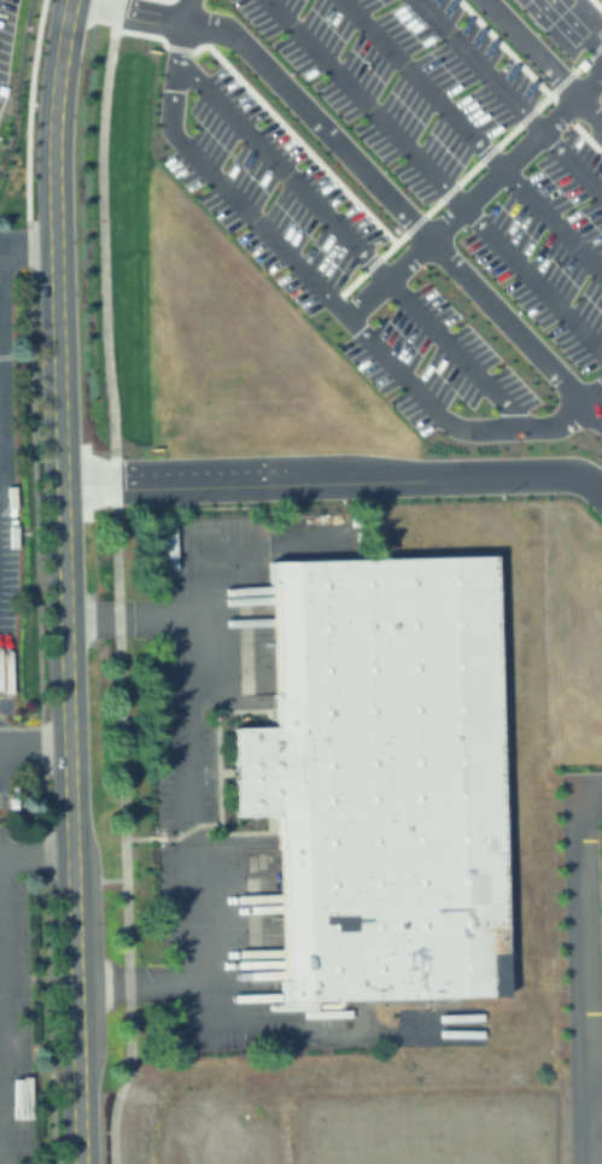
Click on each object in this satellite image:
road: (577, 25)
road: (542, 62)
road: (510, 95)
road: (54, 122)
road: (472, 136)
road: (361, 166)
road: (434, 175)
road: (268, 192)
road: (480, 207)
road: (27, 246)
road: (363, 252)
road: (323, 291)
road: (29, 353)
road: (450, 384)
road: (2, 397)
road: (334, 487)
road: (117, 581)
road: (92, 619)
road: (68, 704)
road: (35, 748)
building: (378, 783)
road: (187, 800)
road: (158, 840)
road: (36, 852)
road: (100, 881)
road: (583, 965)
road: (40, 981)
road: (103, 984)
road: (4, 1024)
road: (594, 1077)

